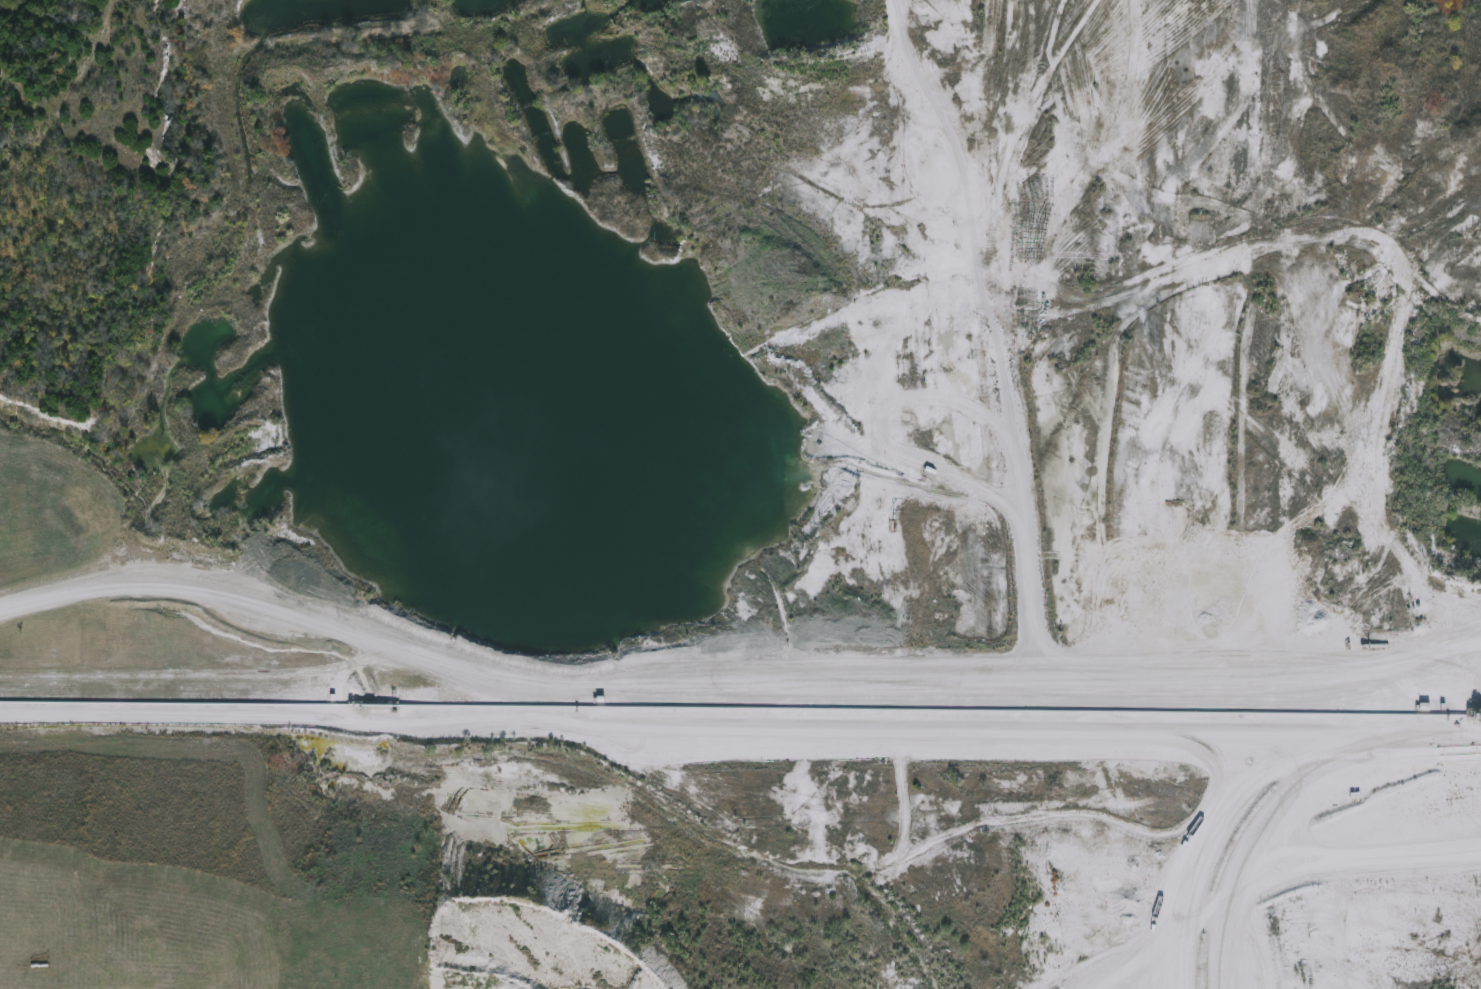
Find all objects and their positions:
road: (903, 49)
road: (732, 657)
road: (777, 710)
road: (1356, 740)
road: (1264, 820)
road: (1296, 842)

